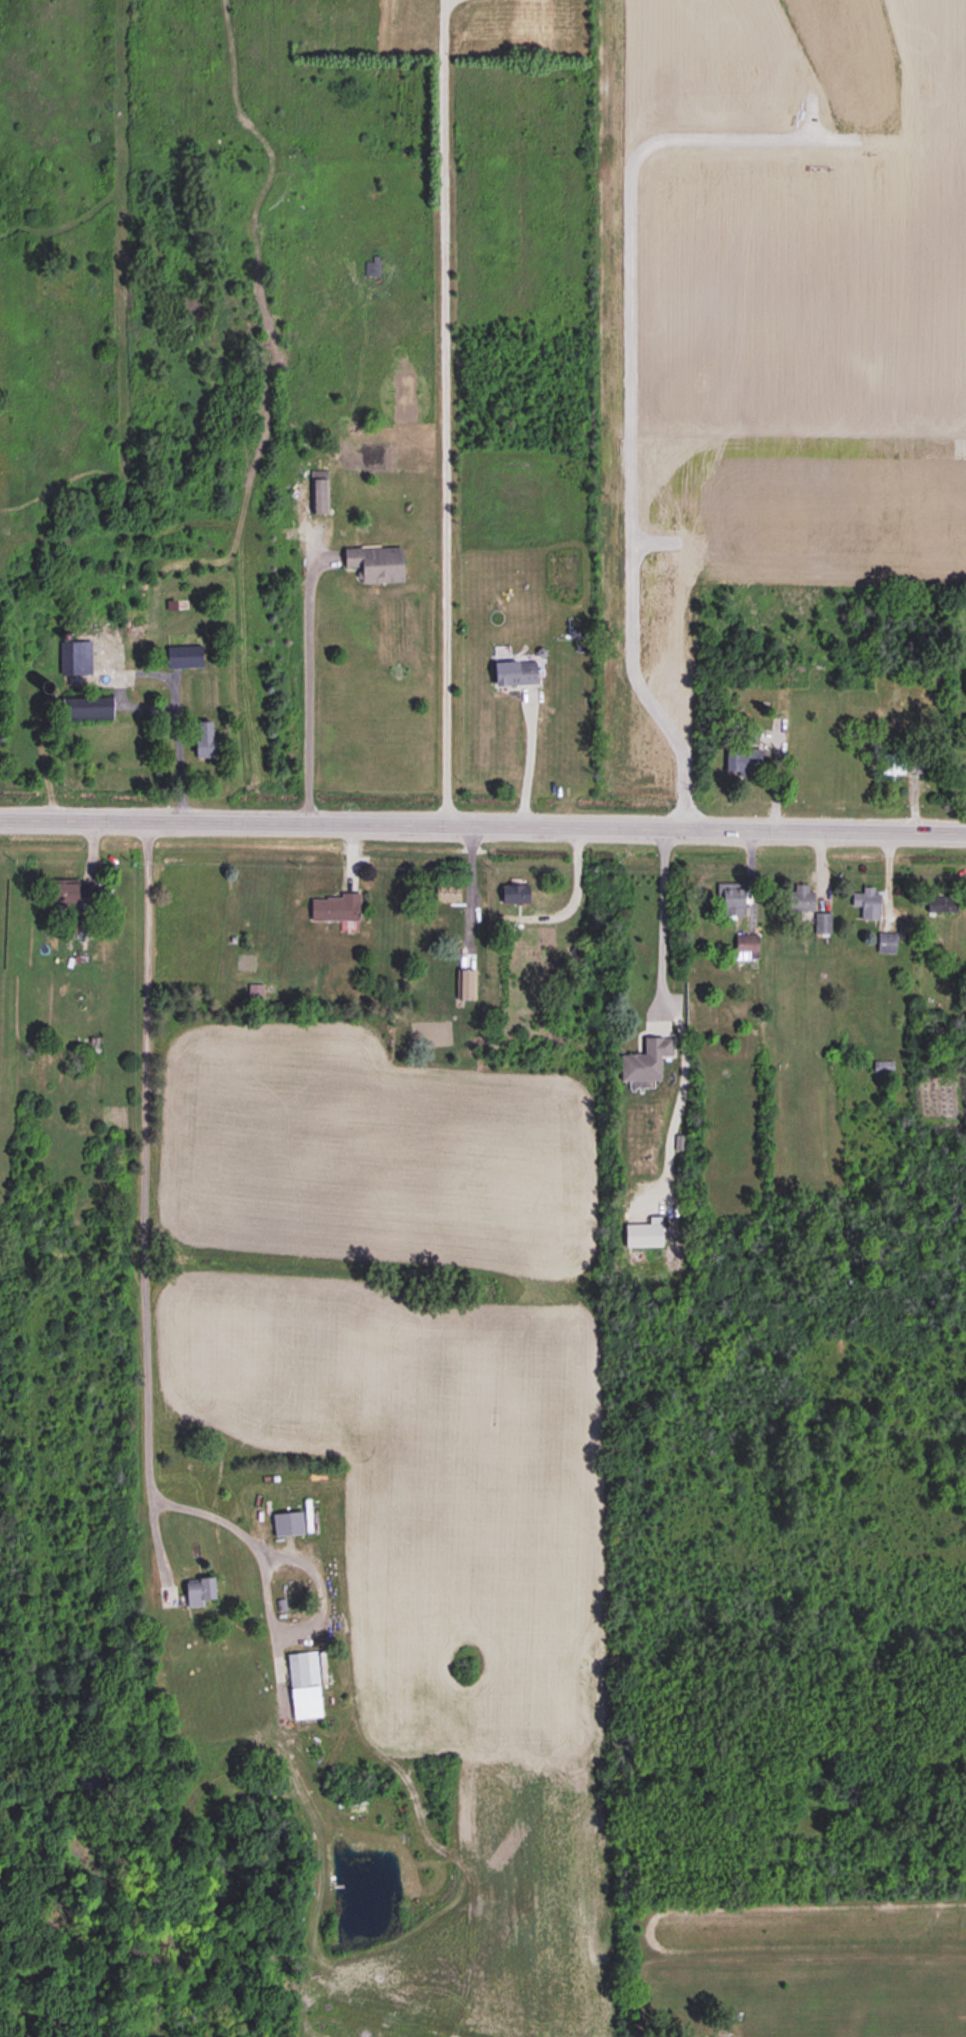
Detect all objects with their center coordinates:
road: (443, 412)
building: (313, 485)
building: (77, 657)
building: (512, 674)
road: (306, 691)
building: (91, 706)
road: (174, 729)
building: (750, 736)
building: (741, 761)
building: (903, 764)
road: (526, 766)
road: (482, 825)
building: (68, 892)
building: (513, 893)
building: (801, 899)
building: (732, 900)
building: (867, 903)
building: (330, 905)
road: (660, 916)
building: (823, 924)
building: (886, 943)
building: (746, 945)
building: (645, 1061)
building: (883, 1066)
road: (146, 1199)
building: (284, 1522)
building: (193, 1590)
building: (299, 1683)

